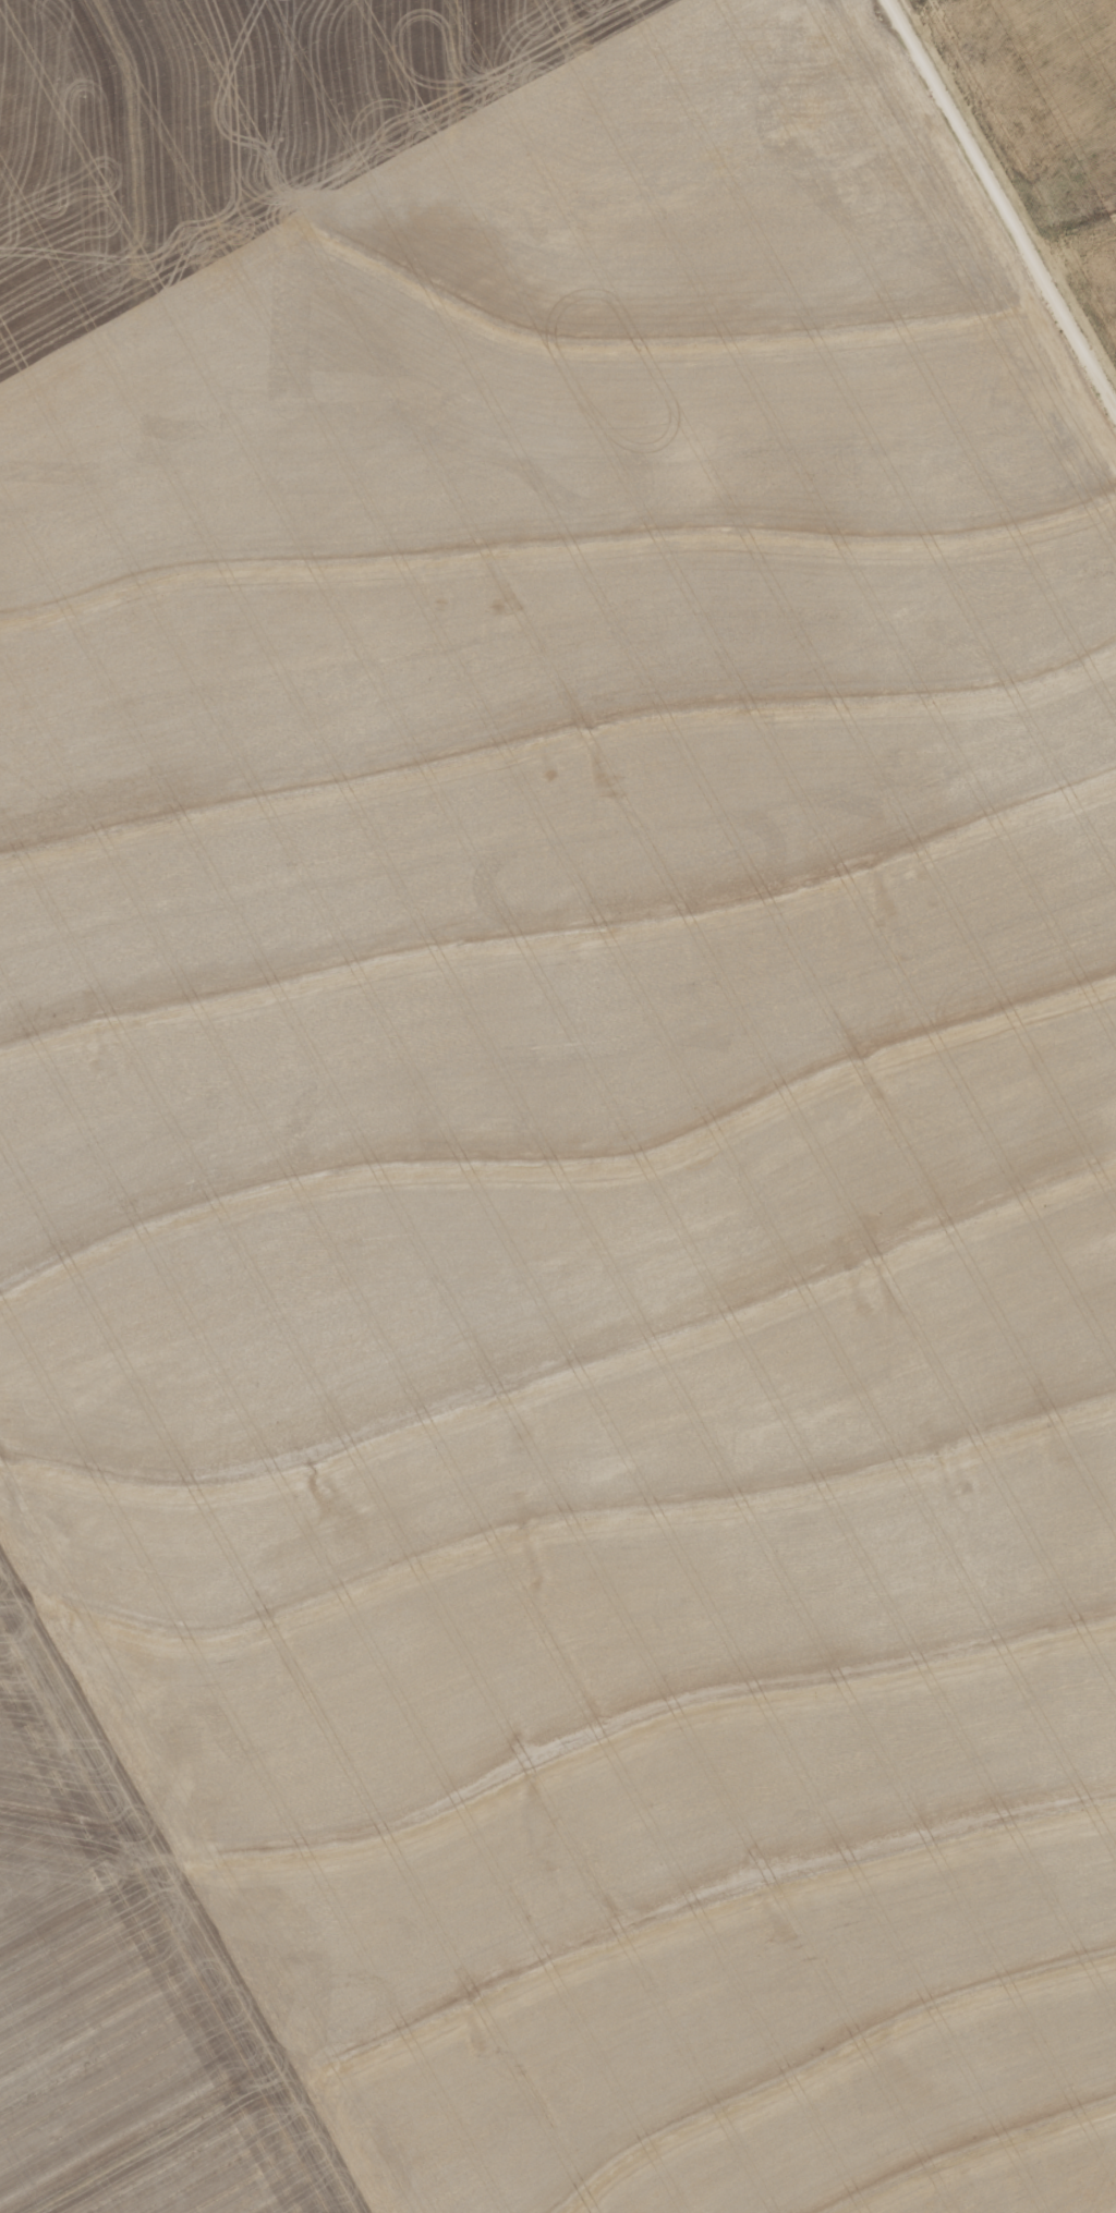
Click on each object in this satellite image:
road: (1006, 196)

